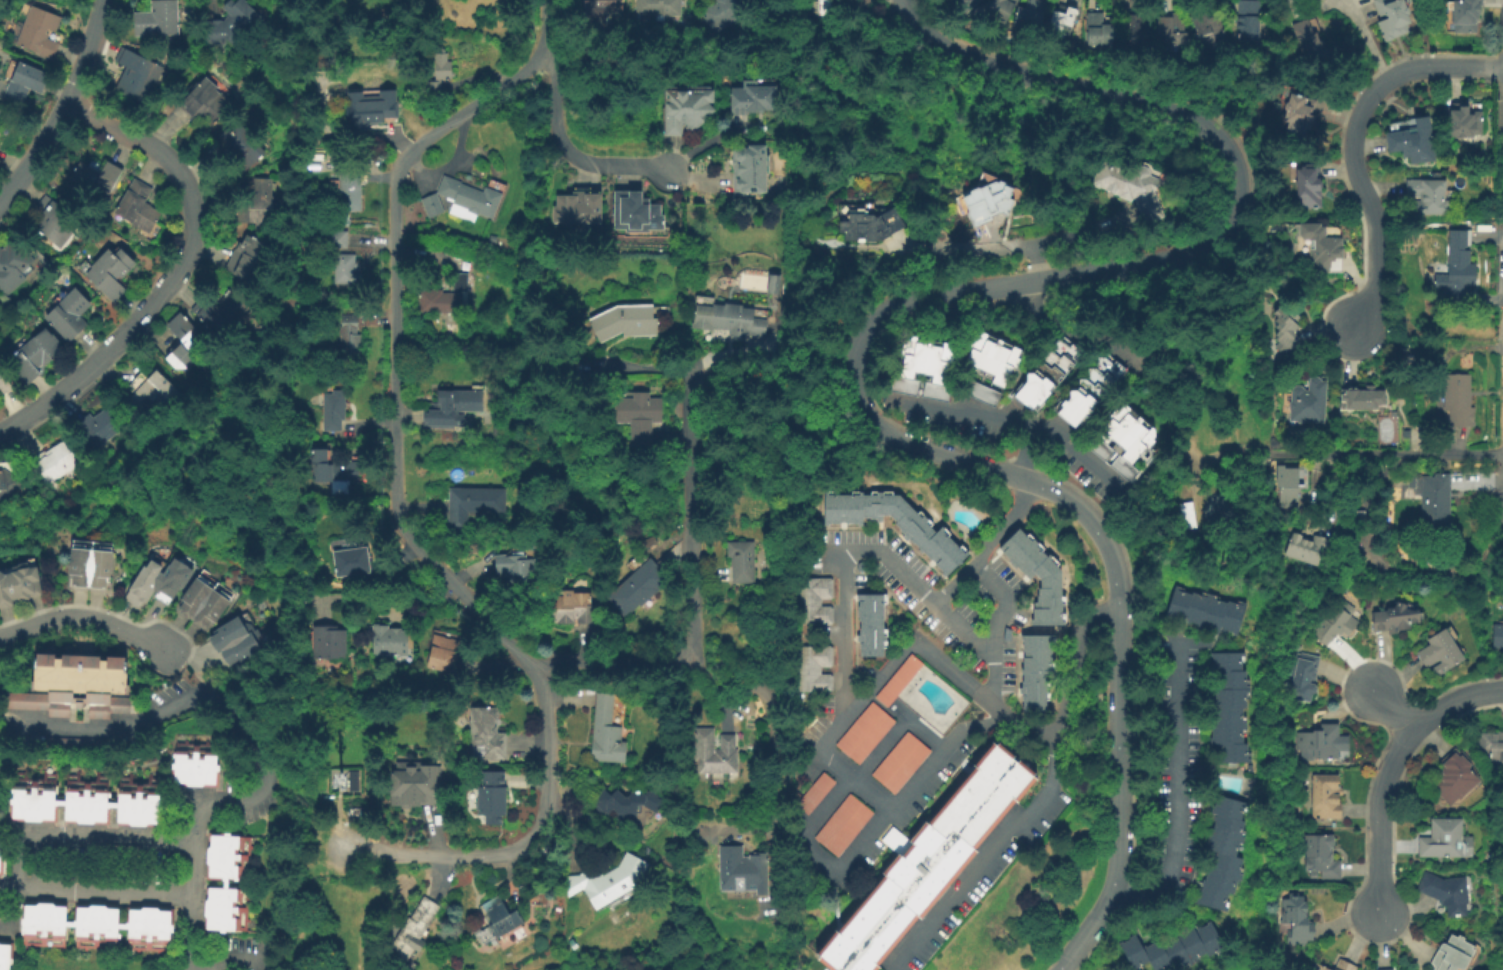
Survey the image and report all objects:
road: (209, 1)
building: (973, 3)
building: (854, 4)
building: (963, 4)
building: (659, 7)
building: (818, 8)
building: (596, 9)
building: (1004, 9)
building: (722, 12)
building: (1464, 14)
building: (1034, 16)
building: (1392, 17)
building: (159, 20)
building: (1067, 20)
building: (1251, 21)
building: (233, 24)
building: (1139, 28)
building: (1208, 28)
building: (1102, 29)
road: (546, 30)
building: (1175, 30)
building: (39, 31)
road: (1367, 35)
building: (1307, 39)
building: (321, 58)
road: (1445, 68)
building: (439, 70)
building: (137, 77)
building: (25, 83)
building: (751, 98)
building: (207, 101)
road: (65, 108)
building: (0, 109)
building: (686, 109)
building: (0, 111)
building: (367, 111)
building: (1296, 115)
building: (1463, 123)
building: (1412, 140)
building: (243, 147)
road: (573, 154)
building: (749, 168)
building: (97, 175)
building: (1133, 183)
building: (1308, 186)
building: (350, 190)
building: (1427, 196)
building: (992, 197)
building: (471, 198)
road: (1369, 201)
building: (260, 202)
building: (139, 205)
building: (432, 205)
building: (578, 207)
building: (635, 212)
building: (55, 221)
building: (874, 222)
building: (334, 238)
building: (492, 239)
building: (1323, 246)
road: (998, 247)
building: (247, 257)
building: (1458, 261)
building: (14, 265)
building: (110, 269)
building: (346, 269)
road: (177, 274)
building: (774, 280)
building: (447, 296)
building: (223, 309)
building: (70, 313)
building: (730, 318)
building: (623, 319)
road: (873, 323)
building: (1285, 328)
building: (349, 336)
building: (185, 342)
road: (819, 353)
building: (36, 354)
building: (998, 355)
road: (735, 356)
building: (928, 366)
building: (1052, 371)
building: (4, 380)
building: (1095, 389)
building: (152, 390)
building: (985, 392)
building: (1362, 399)
building: (1458, 399)
building: (1308, 401)
building: (451, 407)
building: (333, 410)
building: (640, 414)
road: (996, 415)
building: (102, 424)
building: (1129, 441)
road: (1082, 452)
road: (1393, 453)
building: (54, 462)
building: (335, 472)
building: (9, 480)
building: (1411, 481)
building: (1288, 483)
building: (964, 502)
building: (1434, 502)
building: (472, 504)
road: (691, 514)
building: (1185, 514)
road: (408, 533)
building: (931, 533)
road: (988, 543)
road: (881, 548)
building: (1305, 548)
building: (352, 557)
building: (741, 561)
building: (92, 562)
building: (516, 564)
building: (864, 565)
building: (1043, 576)
building: (144, 580)
building: (170, 580)
building: (20, 582)
building: (637, 584)
building: (964, 594)
building: (207, 599)
building: (816, 600)
road: (1005, 604)
building: (570, 607)
building: (1210, 610)
road: (83, 618)
building: (1394, 618)
building: (875, 623)
building: (1335, 623)
building: (225, 634)
building: (1009, 634)
building: (1497, 635)
building: (389, 640)
building: (328, 642)
building: (237, 650)
building: (1440, 651)
building: (446, 654)
road: (611, 660)
building: (816, 668)
building: (1041, 670)
building: (1300, 675)
building: (901, 679)
building: (77, 684)
road: (212, 701)
building: (1233, 706)
road: (1393, 707)
road: (842, 720)
road: (923, 725)
building: (608, 728)
building: (487, 731)
building: (867, 732)
building: (1321, 741)
building: (1492, 746)
building: (76, 747)
building: (714, 751)
building: (196, 760)
building: (903, 762)
road: (1391, 768)
road: (862, 771)
building: (1454, 777)
building: (342, 779)
building: (417, 787)
building: (817, 793)
road: (1169, 795)
building: (1325, 796)
building: (87, 797)
building: (492, 797)
road: (1042, 797)
building: (626, 805)
building: (845, 825)
building: (1444, 839)
road: (863, 841)
building: (1, 845)
building: (125, 853)
building: (1227, 853)
building: (1321, 856)
building: (936, 861)
building: (743, 871)
building: (78, 876)
building: (610, 881)
building: (226, 884)
road: (191, 887)
building: (1445, 892)
building: (2, 911)
building: (500, 917)
building: (1296, 919)
building: (98, 930)
road: (191, 934)
building: (1178, 948)
building: (1452, 954)
building: (5, 957)
building: (1344, 965)
building: (1319, 967)
building: (1386, 969)

